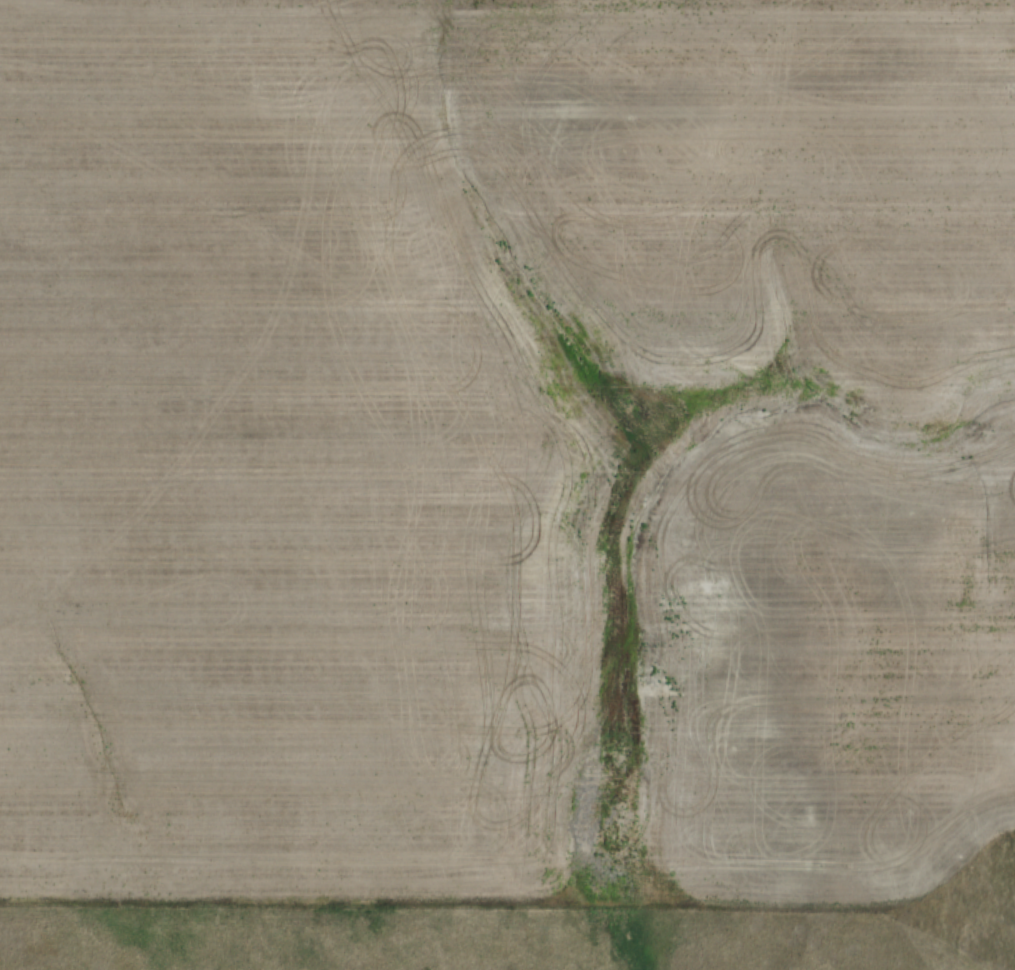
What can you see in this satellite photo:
road: (874, 968)

